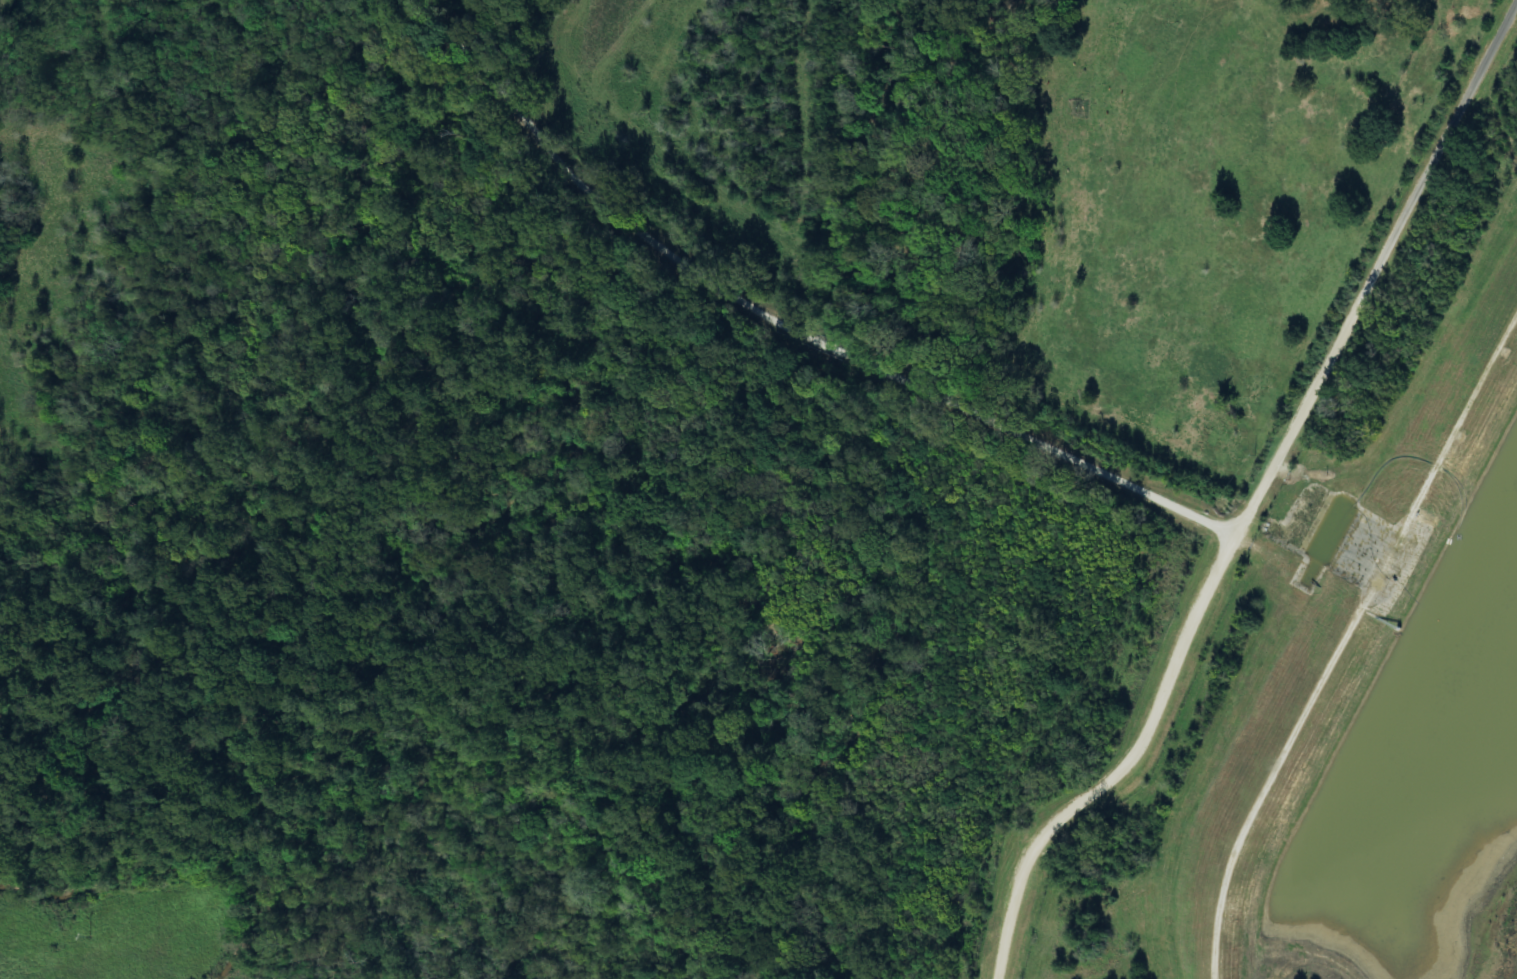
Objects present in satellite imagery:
road: (777, 326)
road: (1253, 496)
road: (1347, 648)

